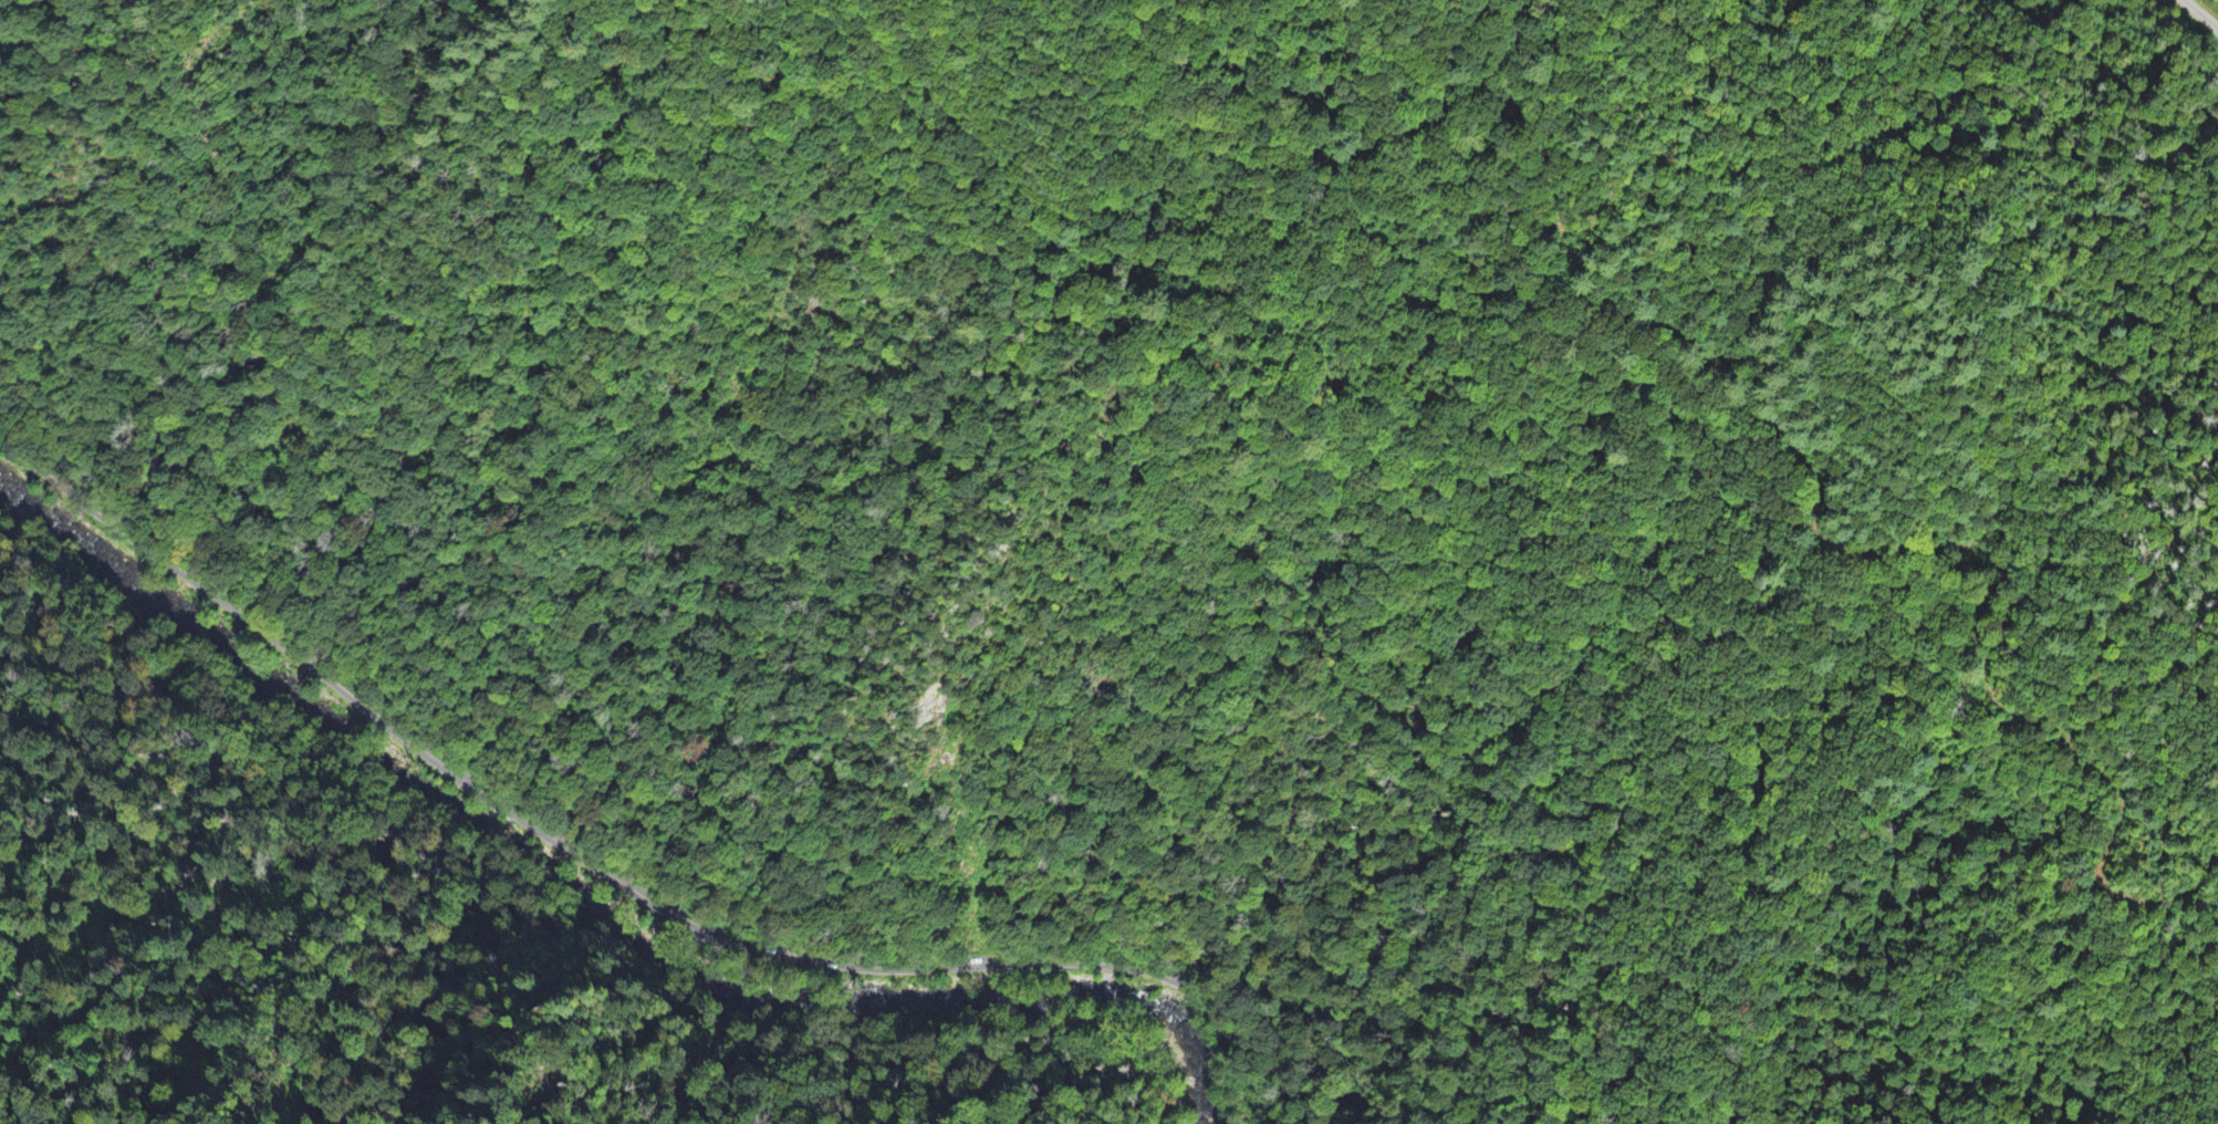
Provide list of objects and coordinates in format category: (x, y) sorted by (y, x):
road: (2200, 14)
road: (613, 877)
river: (581, 896)

